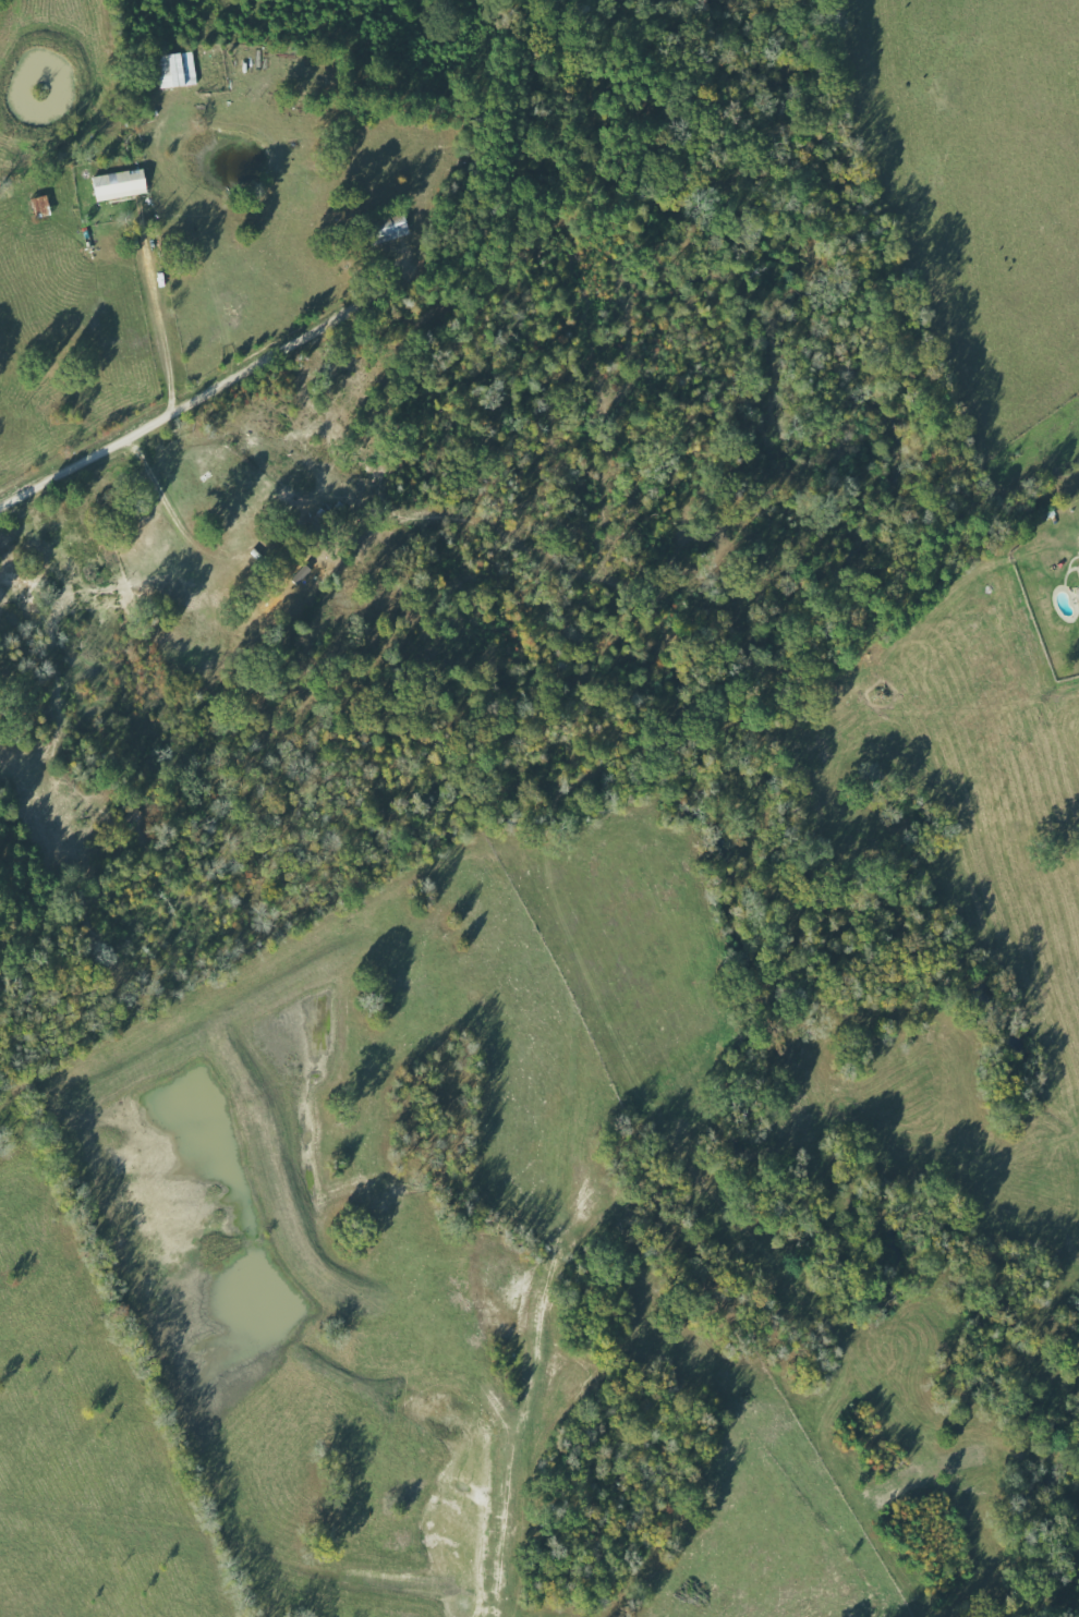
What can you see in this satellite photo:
building: (124, 184)
building: (46, 206)
building: (400, 224)
road: (89, 452)

